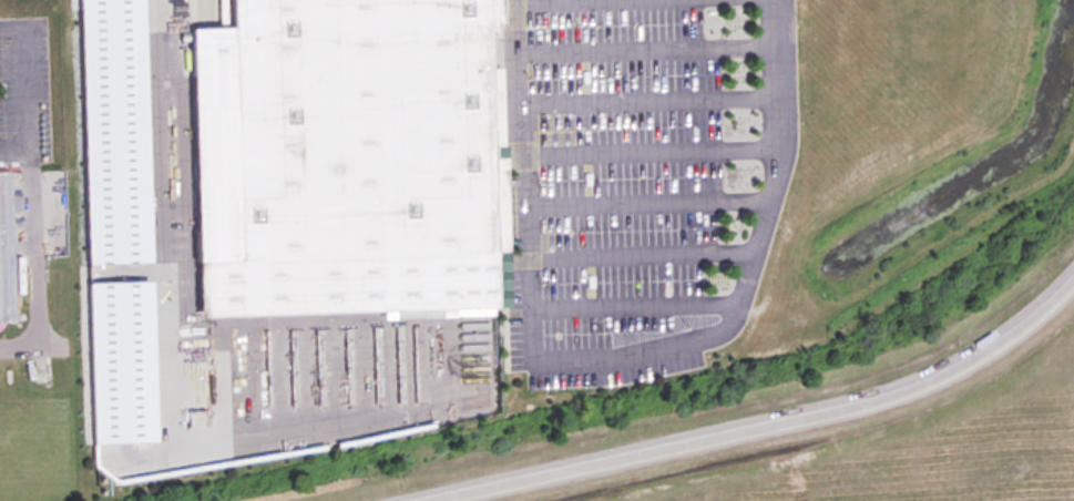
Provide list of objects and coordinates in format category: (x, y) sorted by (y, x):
building: (111, 137)
road: (13, 151)
building: (346, 156)
road: (28, 192)
building: (3, 254)
road: (614, 352)
road: (753, 425)

